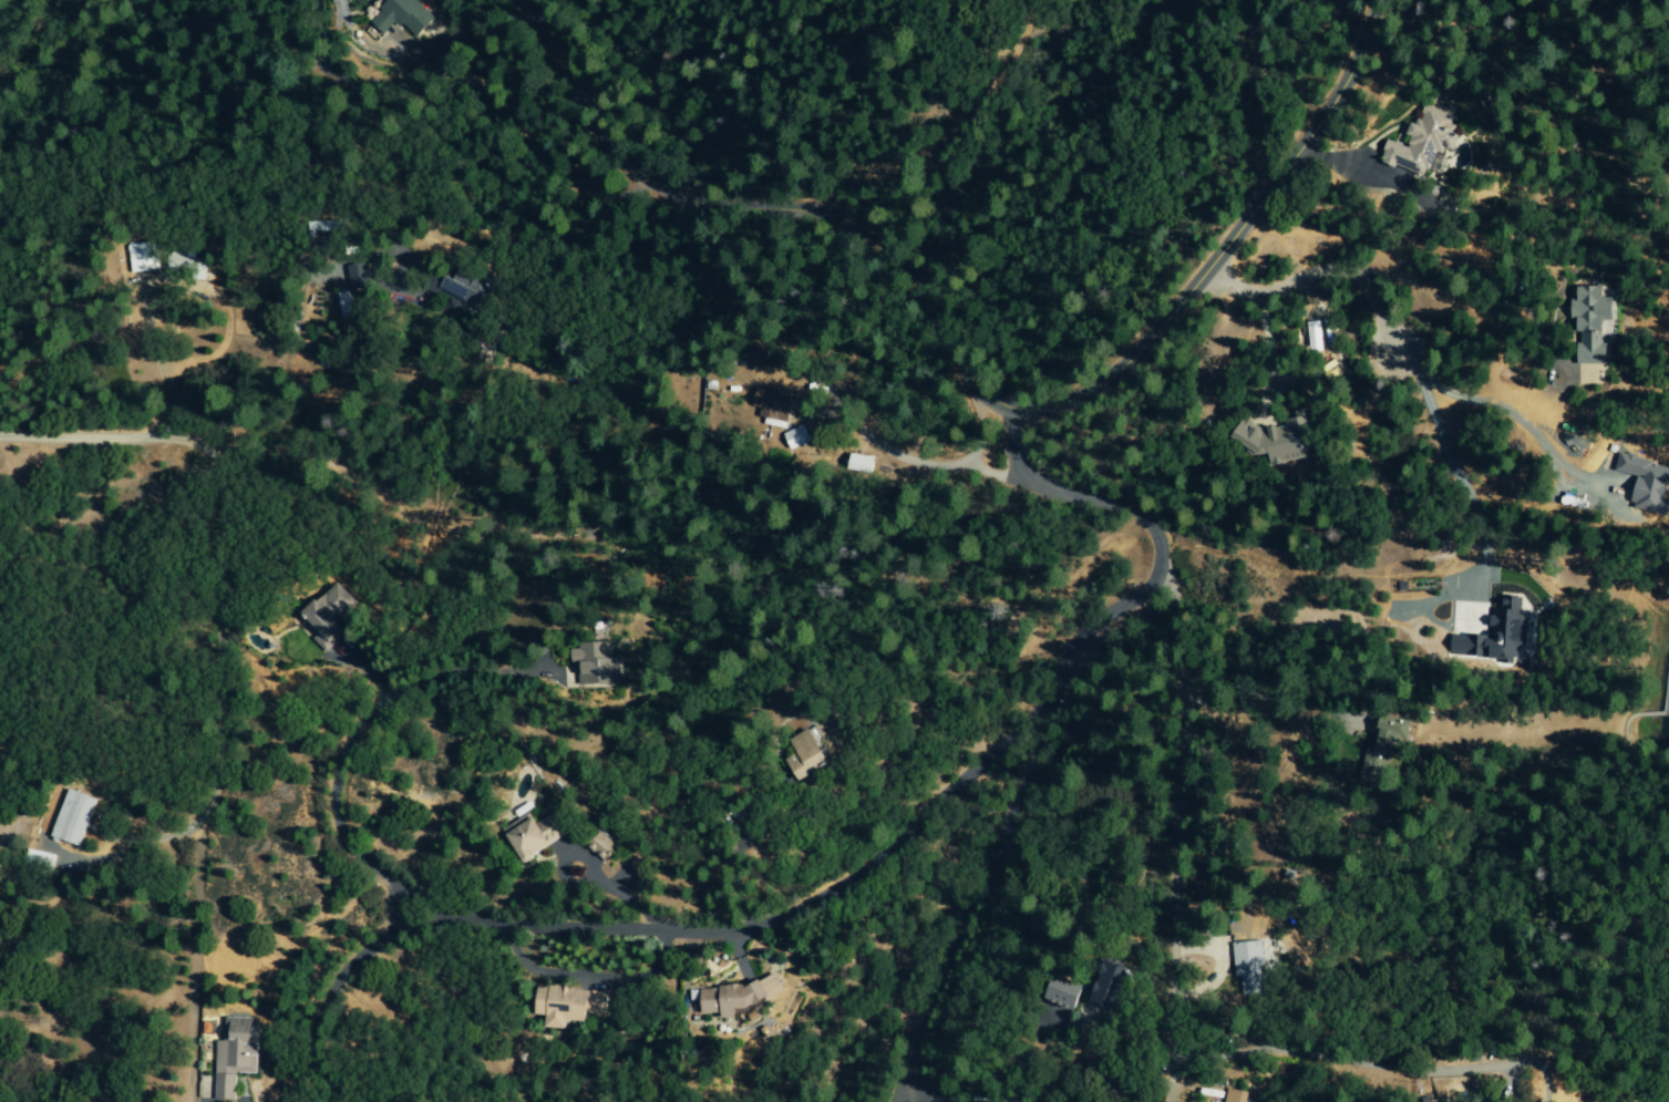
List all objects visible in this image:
building: (402, 17)
building: (1418, 143)
road: (1373, 171)
road: (770, 205)
road: (1227, 243)
building: (141, 257)
road: (1317, 271)
building: (359, 277)
building: (470, 293)
road: (1502, 298)
building: (343, 307)
building: (1588, 322)
road: (1270, 361)
building: (776, 410)
building: (801, 437)
building: (1269, 441)
road: (921, 463)
building: (865, 464)
road: (991, 475)
road: (218, 534)
road: (1153, 539)
building: (328, 620)
building: (1487, 637)
building: (596, 665)
road: (461, 670)
road: (1266, 688)
building: (1385, 733)
building: (807, 753)
road: (331, 812)
building: (73, 816)
road: (1172, 817)
building: (535, 834)
building: (602, 846)
road: (973, 903)
road: (766, 924)
building: (1242, 968)
road: (588, 975)
building: (1113, 983)
road: (332, 990)
building: (1068, 992)
building: (740, 996)
building: (566, 1005)
building: (235, 1054)
road: (1341, 1061)
building: (1238, 1095)
building: (219, 1100)
road: (929, 1101)

